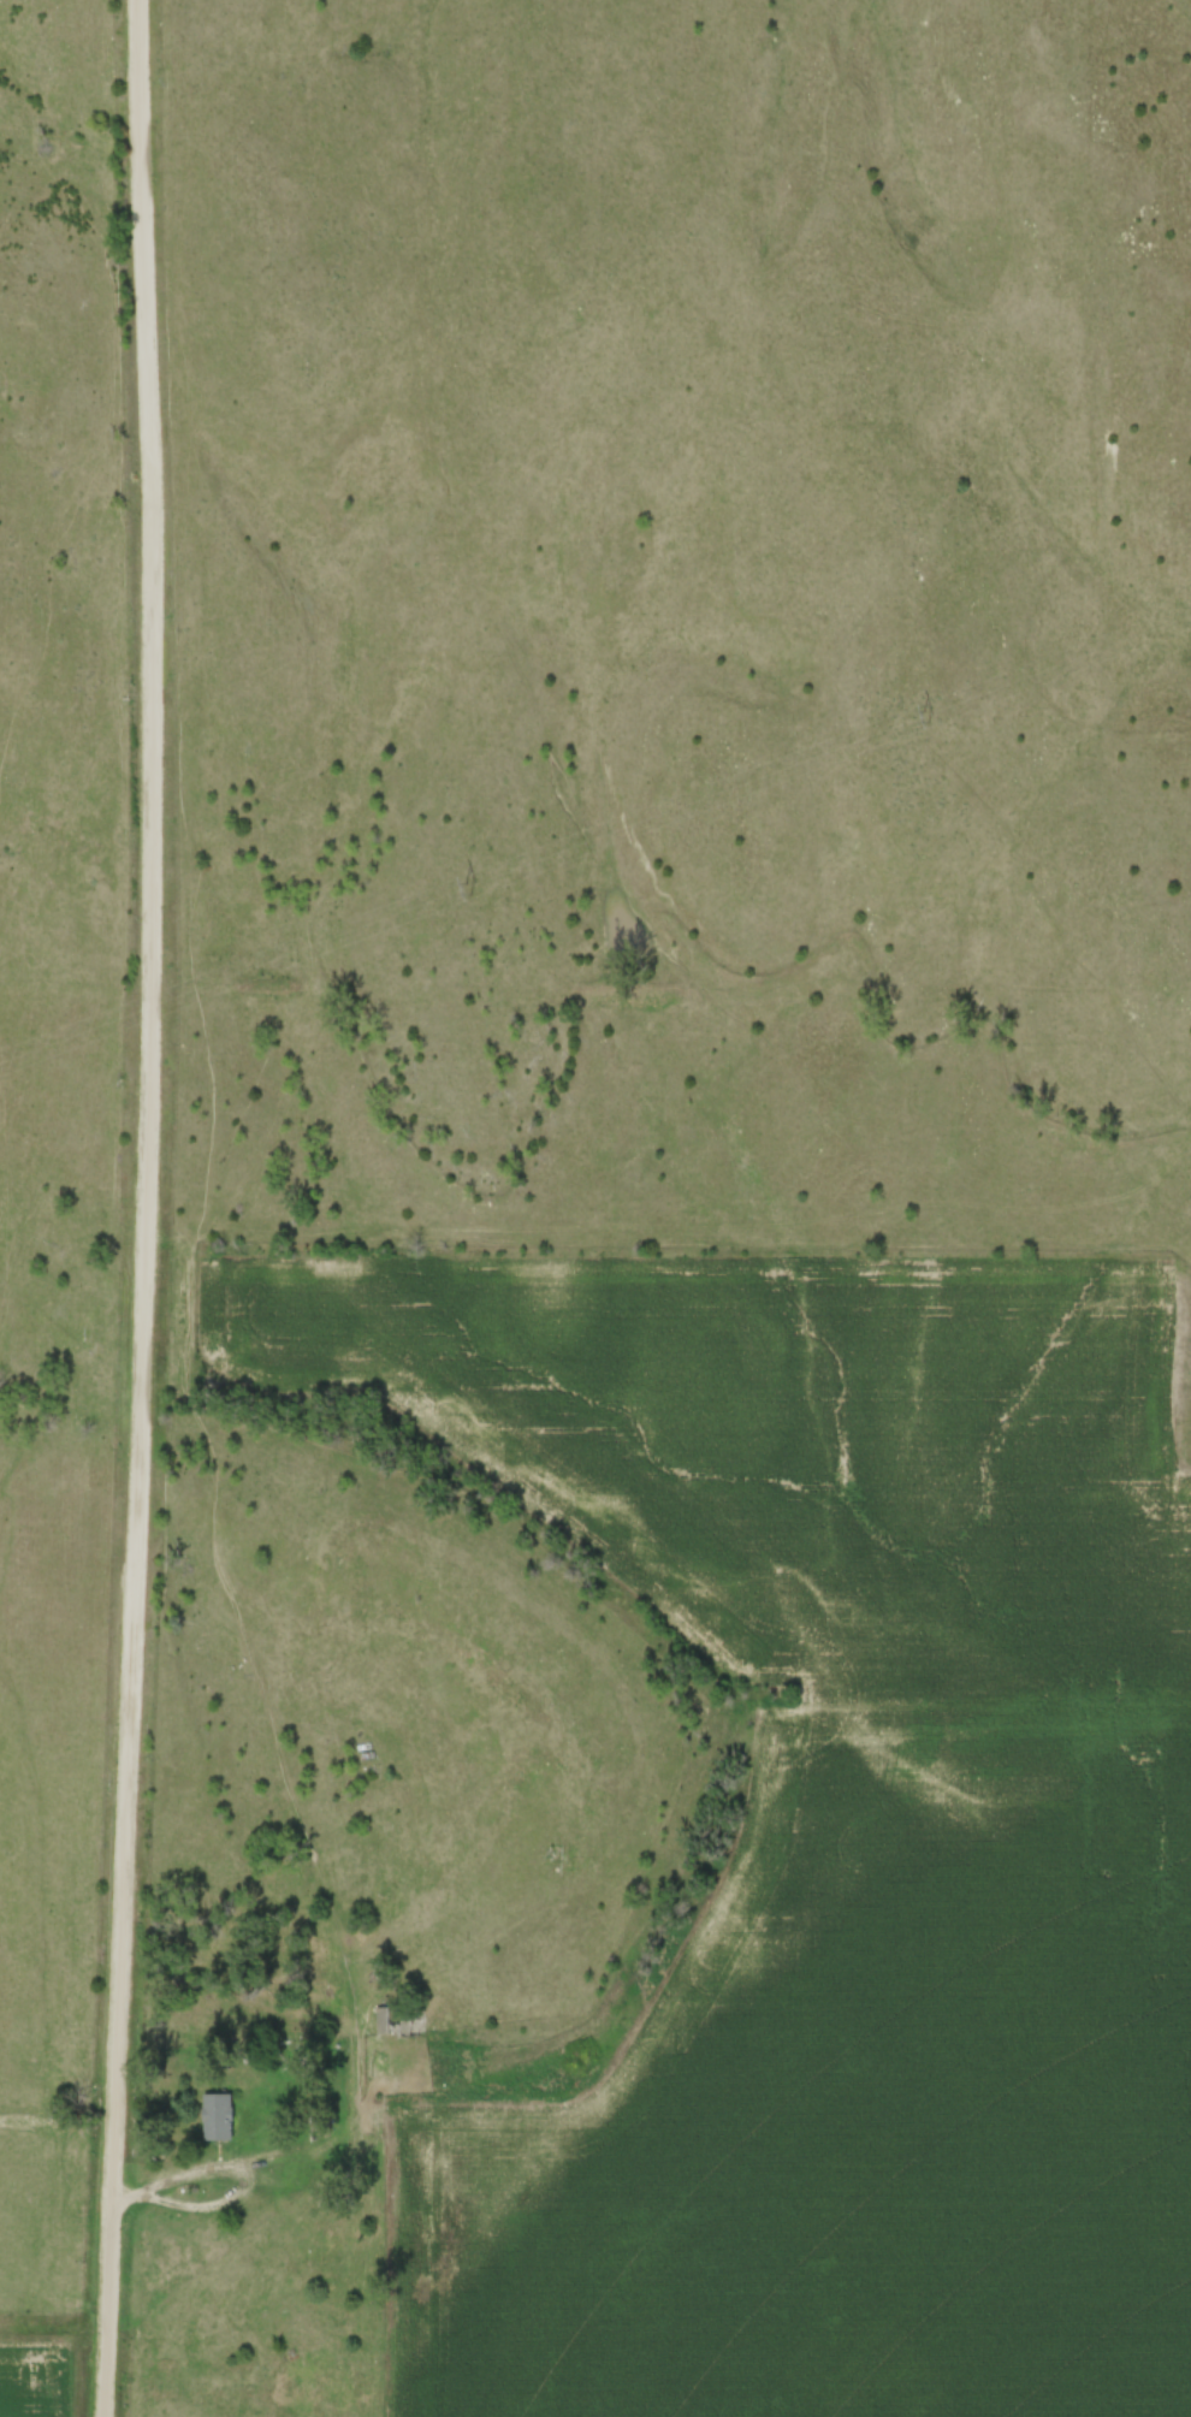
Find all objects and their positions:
power tower: (928, 715)
power tower: (469, 887)
road: (143, 1208)
building: (397, 2018)
building: (218, 2115)

